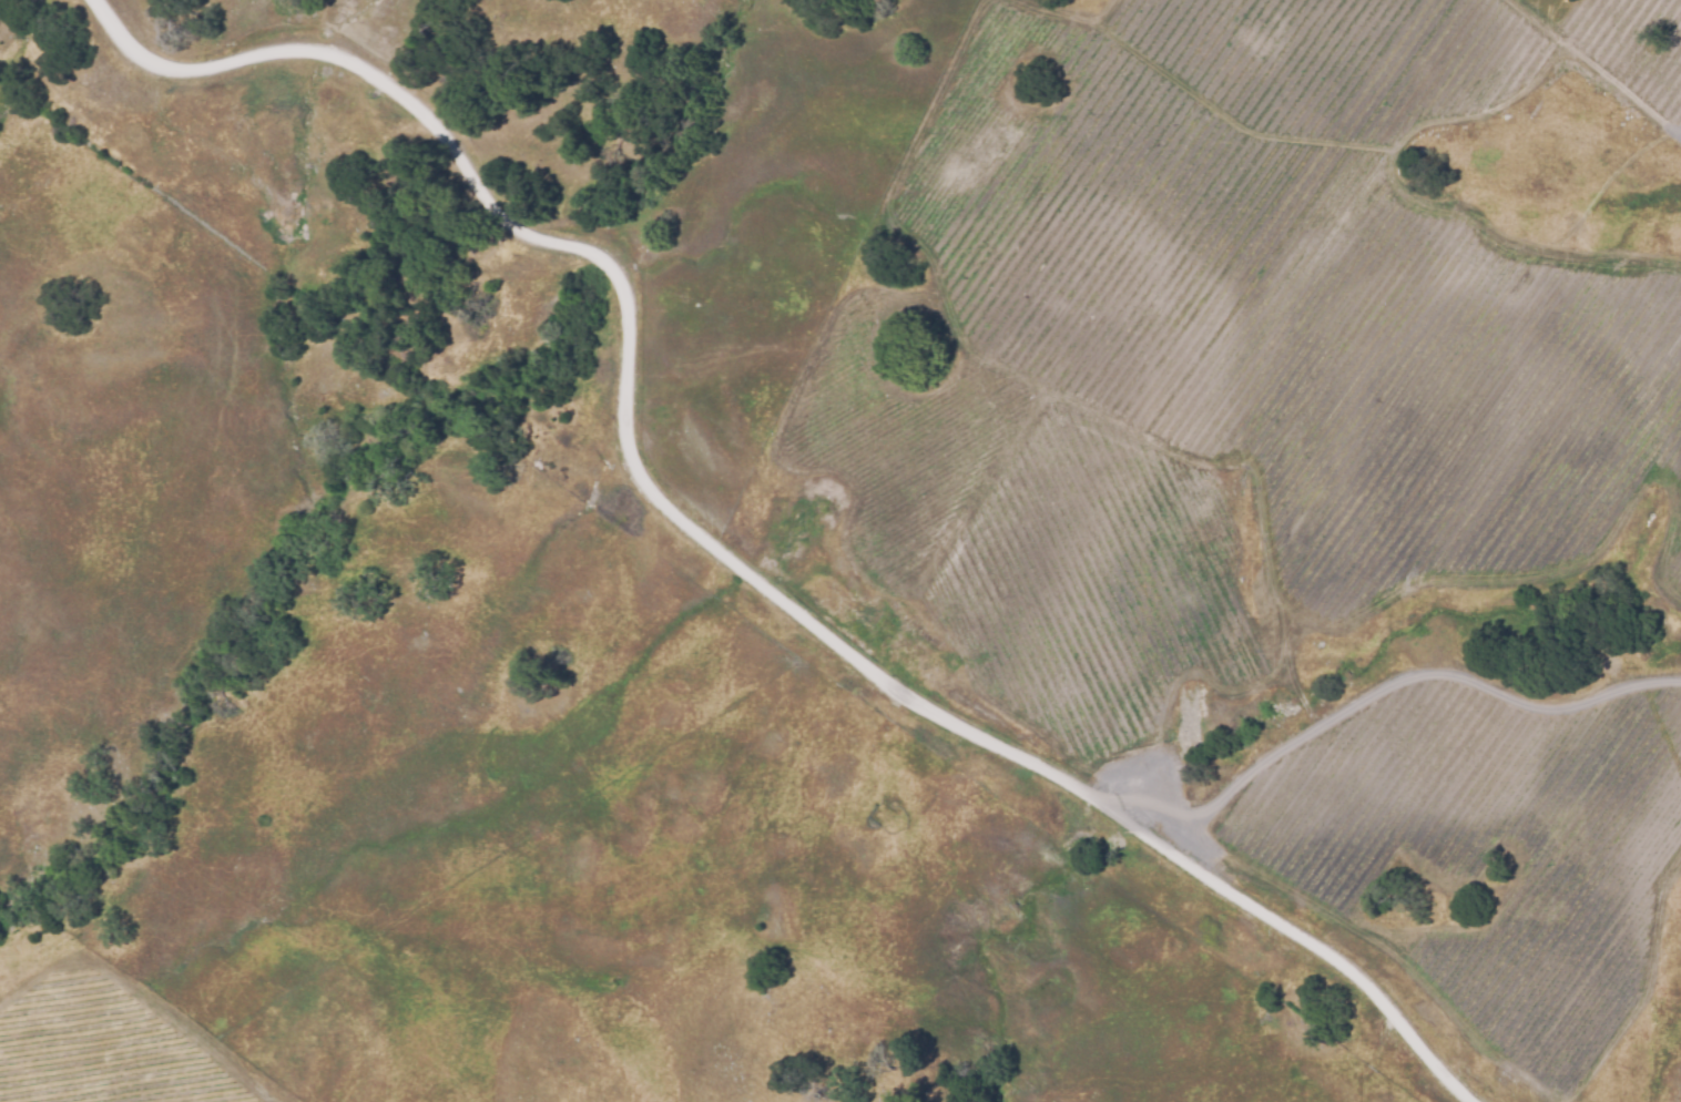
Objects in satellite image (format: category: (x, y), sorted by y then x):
road: (1596, 69)
road: (1488, 108)
road: (715, 545)
road: (1400, 684)

